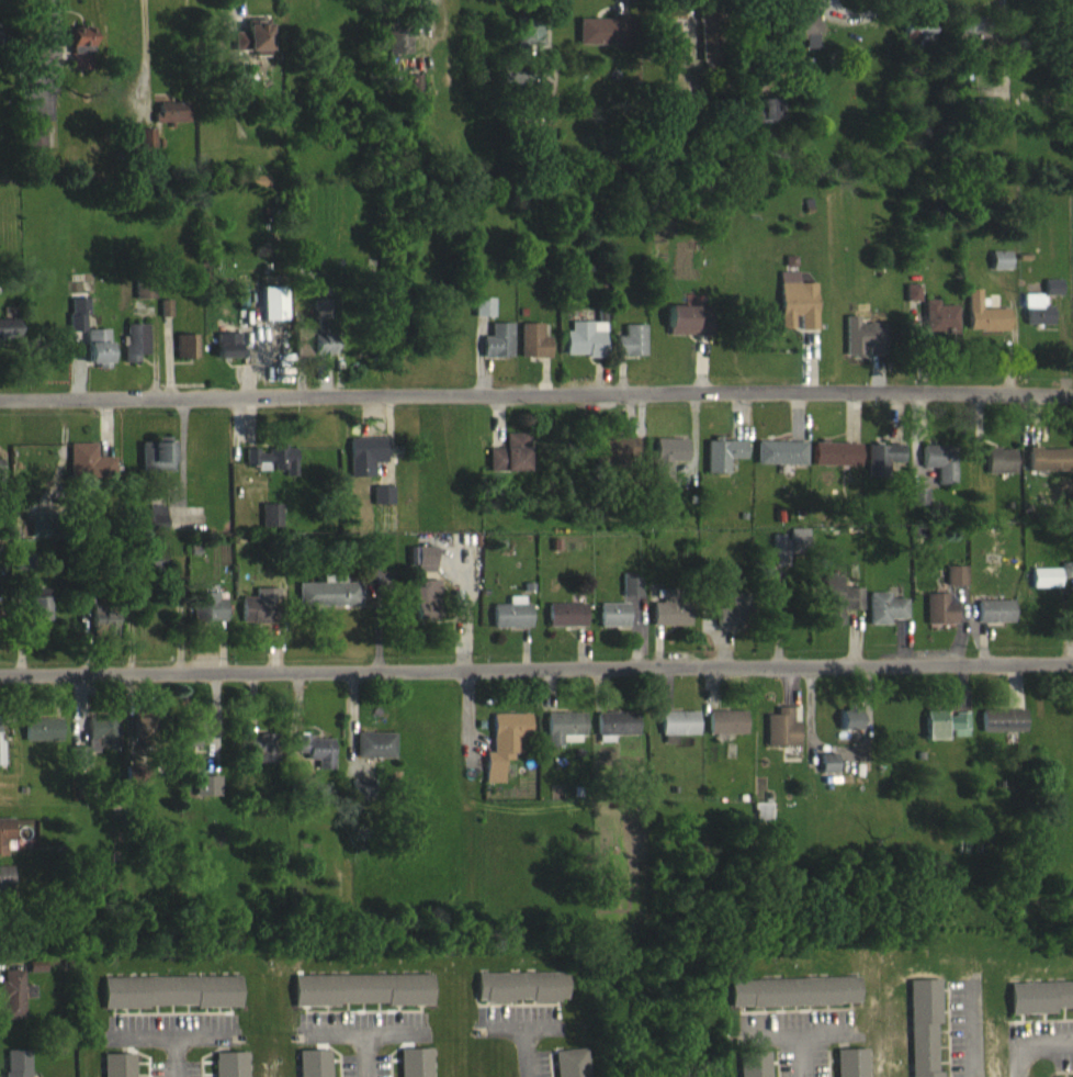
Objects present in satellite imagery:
building: (964, 34)
building: (257, 36)
building: (603, 41)
building: (807, 41)
building: (918, 43)
building: (668, 45)
road: (144, 46)
building: (709, 46)
building: (397, 48)
building: (80, 57)
building: (1070, 112)
building: (768, 120)
building: (170, 123)
building: (34, 142)
building: (146, 148)
building: (1001, 270)
building: (1053, 300)
building: (144, 301)
building: (912, 303)
building: (240, 307)
building: (271, 313)
building: (795, 313)
building: (483, 317)
building: (165, 318)
building: (320, 318)
building: (1037, 319)
building: (78, 324)
building: (985, 325)
building: (939, 328)
building: (689, 330)
building: (8, 339)
building: (862, 348)
building: (584, 349)
building: (135, 351)
building: (497, 351)
building: (532, 351)
building: (631, 351)
building: (315, 354)
building: (185, 356)
building: (226, 356)
building: (98, 358)
road: (535, 407)
building: (615, 458)
building: (669, 461)
building: (780, 462)
building: (835, 463)
building: (509, 464)
building: (722, 464)
building: (364, 465)
building: (156, 467)
building: (272, 469)
building: (882, 469)
building: (1049, 469)
building: (999, 470)
building: (88, 472)
building: (939, 472)
building: (0, 481)
building: (382, 505)
building: (918, 506)
building: (270, 525)
building: (154, 526)
building: (41, 535)
building: (788, 556)
building: (420, 568)
building: (23, 572)
building: (955, 585)
building: (1050, 586)
building: (630, 595)
building: (327, 603)
building: (426, 609)
building: (839, 609)
building: (38, 615)
building: (208, 617)
building: (884, 618)
building: (939, 618)
building: (257, 619)
building: (668, 619)
building: (732, 621)
building: (995, 621)
building: (95, 624)
building: (510, 624)
building: (565, 625)
building: (611, 625)
road: (536, 670)
building: (850, 730)
building: (726, 732)
building: (1004, 732)
building: (678, 733)
building: (614, 734)
building: (945, 736)
building: (140, 737)
building: (193, 737)
building: (563, 738)
building: (782, 738)
building: (41, 739)
building: (101, 739)
building: (504, 753)
building: (373, 755)
building: (261, 759)
building: (314, 760)
building: (0, 763)
building: (828, 773)
building: (205, 796)
building: (360, 799)
building: (763, 821)
building: (4, 843)
building: (5, 888)
building: (35, 976)
building: (519, 997)
building: (361, 1000)
building: (170, 1002)
building: (792, 1002)
building: (13, 1005)
building: (1039, 1007)
road: (170, 1026)
road: (364, 1030)
road: (798, 1031)
building: (923, 1031)
road: (972, 1031)
road: (1029, 1040)
road: (531, 1050)
road: (179, 1052)
road: (365, 1053)
road: (798, 1054)
building: (416, 1067)
building: (16, 1068)
building: (313, 1068)
building: (569, 1068)
building: (850, 1068)
building: (230, 1069)
building: (753, 1069)
building: (117, 1070)

